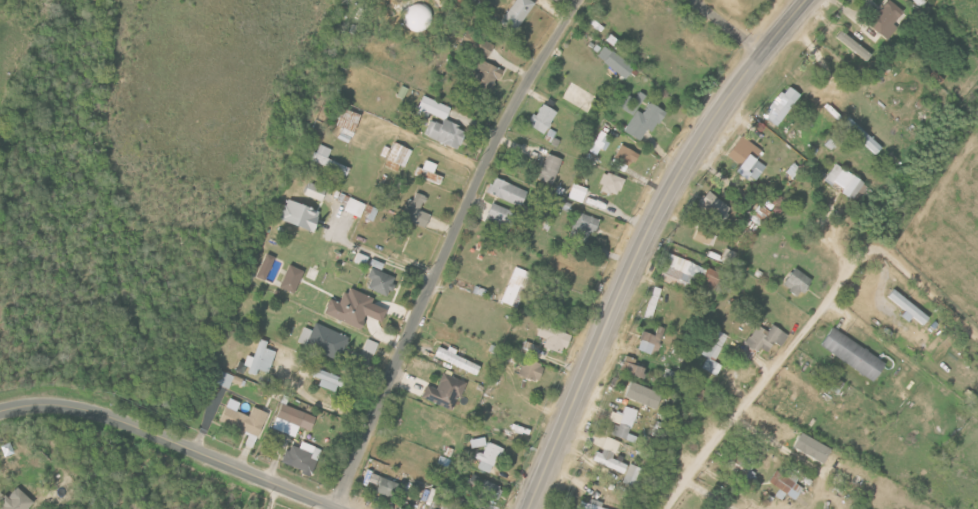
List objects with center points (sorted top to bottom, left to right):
building: (460, 1)
building: (518, 14)
building: (884, 17)
road: (727, 28)
building: (478, 44)
building: (854, 46)
building: (616, 61)
building: (487, 75)
building: (783, 104)
building: (633, 106)
building: (433, 108)
building: (544, 118)
building: (646, 120)
building: (349, 124)
building: (446, 132)
building: (862, 135)
building: (603, 140)
road: (436, 148)
building: (627, 155)
building: (398, 157)
building: (748, 158)
building: (329, 160)
building: (551, 168)
building: (430, 172)
building: (843, 179)
building: (612, 184)
building: (509, 191)
building: (316, 192)
building: (578, 192)
building: (355, 207)
building: (416, 210)
building: (370, 211)
building: (300, 214)
building: (501, 217)
building: (711, 217)
building: (585, 228)
road: (646, 239)
road: (447, 249)
building: (728, 256)
building: (362, 259)
building: (267, 266)
building: (679, 271)
building: (293, 278)
building: (381, 278)
building: (711, 279)
building: (798, 282)
building: (515, 287)
building: (481, 291)
building: (653, 302)
building: (909, 307)
building: (356, 308)
road: (812, 323)
road: (862, 331)
building: (554, 338)
building: (767, 338)
building: (324, 340)
building: (651, 341)
building: (371, 346)
building: (527, 352)
building: (712, 353)
building: (854, 353)
building: (261, 358)
building: (458, 360)
building: (633, 367)
building: (306, 369)
building: (532, 369)
building: (224, 379)
building: (328, 379)
building: (835, 384)
building: (446, 391)
building: (644, 395)
building: (293, 420)
building: (246, 422)
building: (624, 423)
road: (169, 442)
building: (814, 448)
building: (486, 455)
building: (611, 456)
building: (303, 457)
building: (633, 475)
building: (787, 485)
building: (387, 486)
building: (490, 489)
road: (708, 494)
building: (17, 500)
building: (592, 504)
building: (447, 507)

